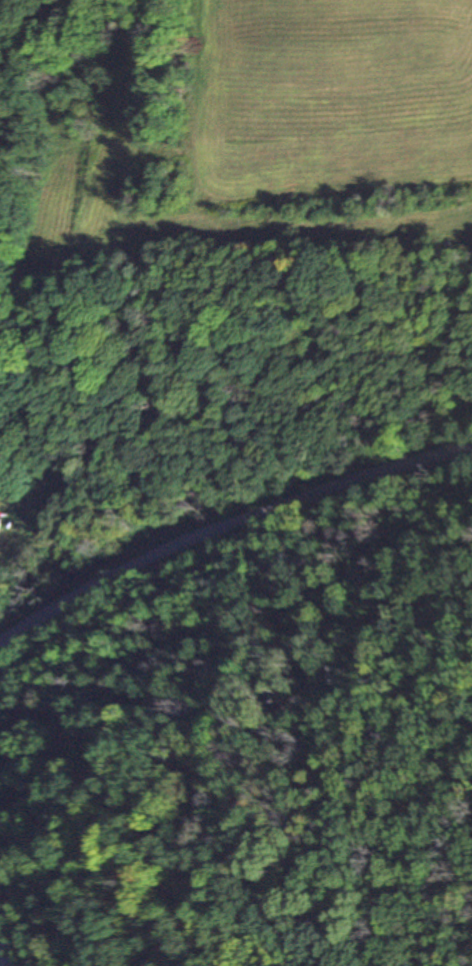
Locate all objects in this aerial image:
building: (2, 520)
road: (229, 546)
road: (4, 949)

